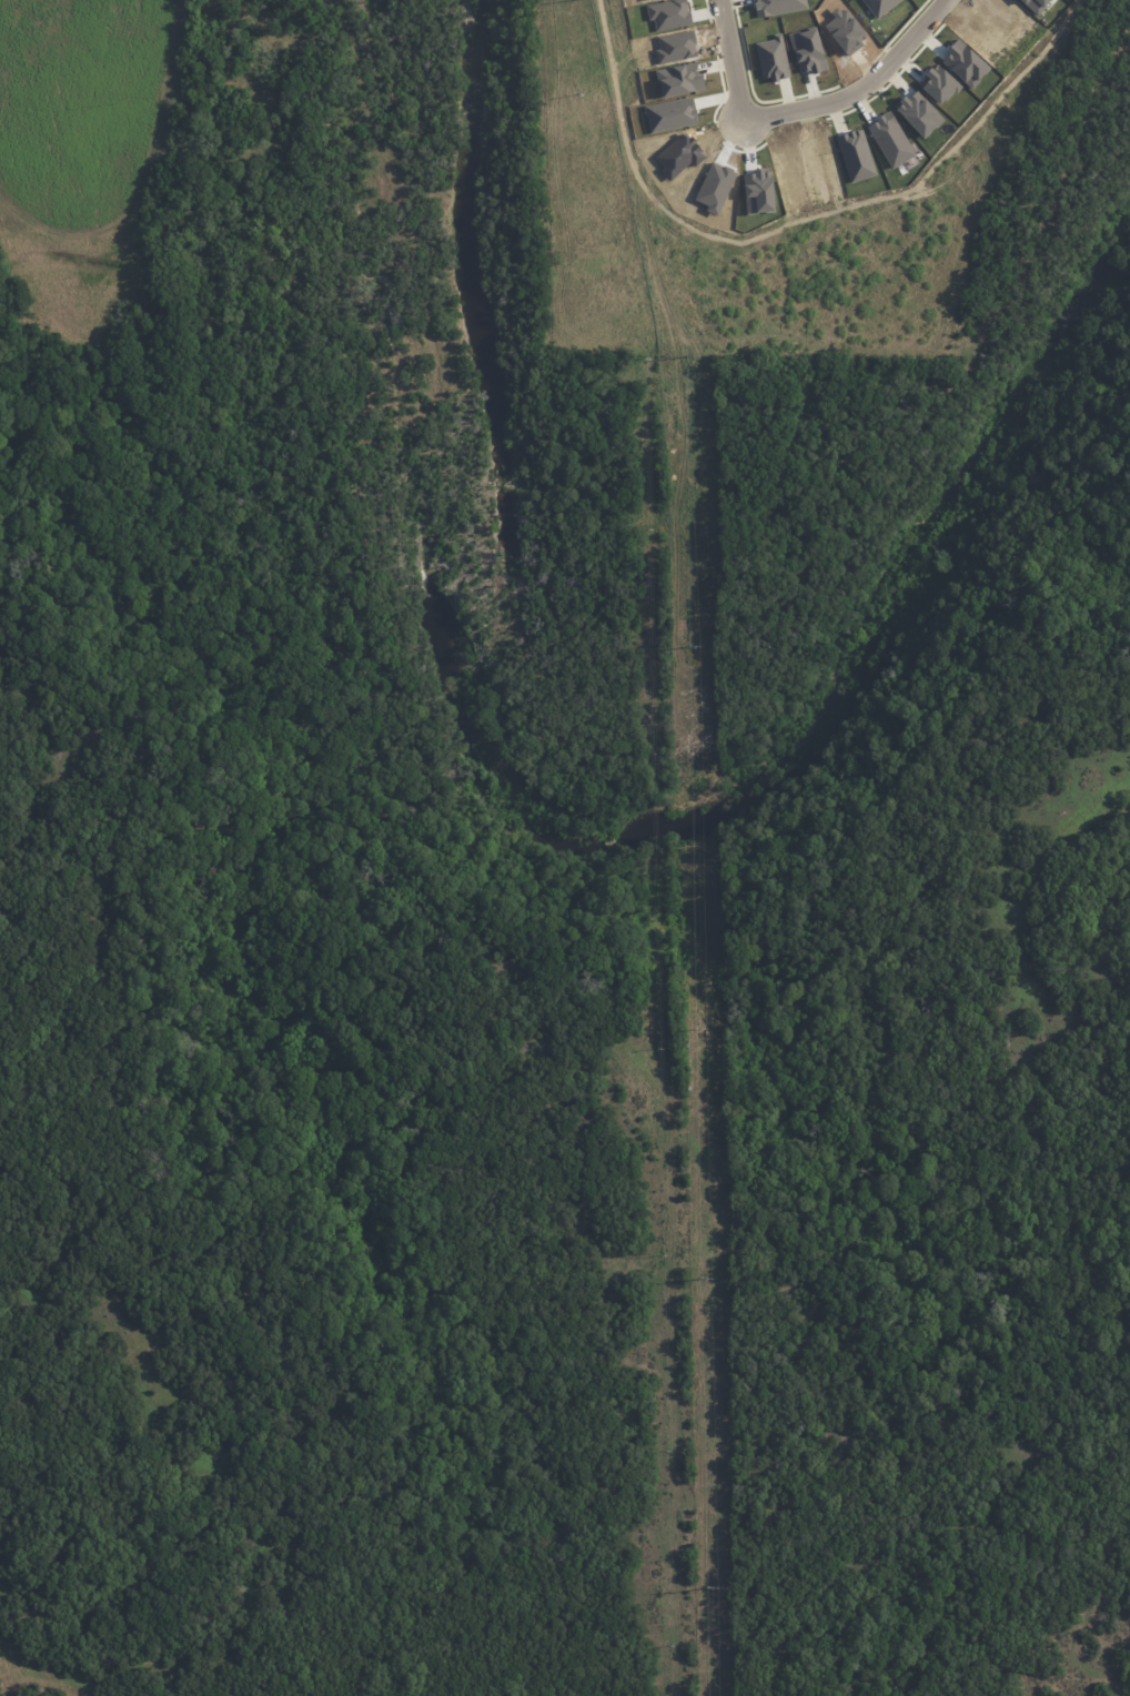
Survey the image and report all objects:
building: (1037, 4)
building: (779, 6)
building: (879, 6)
building: (670, 12)
road: (931, 41)
building: (809, 49)
building: (773, 57)
road: (732, 60)
building: (967, 62)
road: (890, 80)
building: (939, 81)
road: (860, 87)
road: (808, 92)
road: (723, 97)
road: (716, 98)
building: (920, 111)
building: (672, 113)
building: (890, 139)
building: (856, 154)
building: (760, 190)

